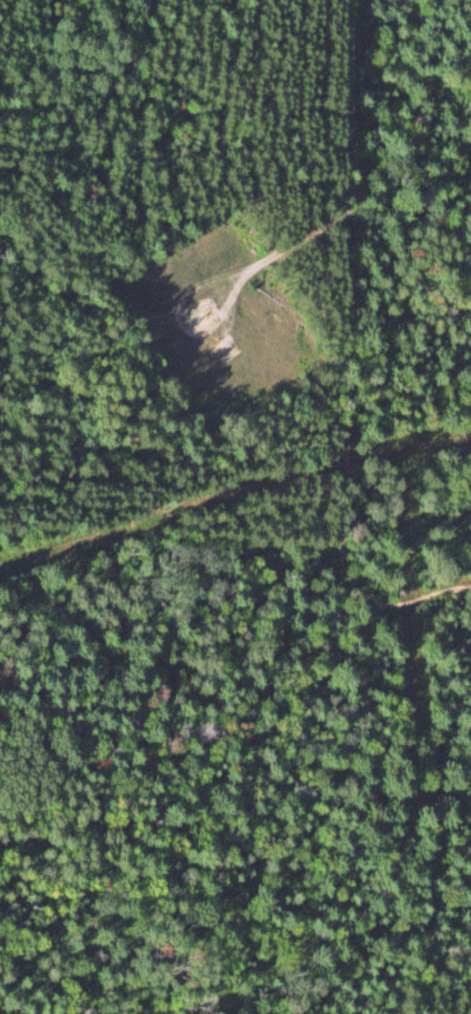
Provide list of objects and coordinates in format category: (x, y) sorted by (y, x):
road: (349, 172)
petroleum well: (200, 311)

